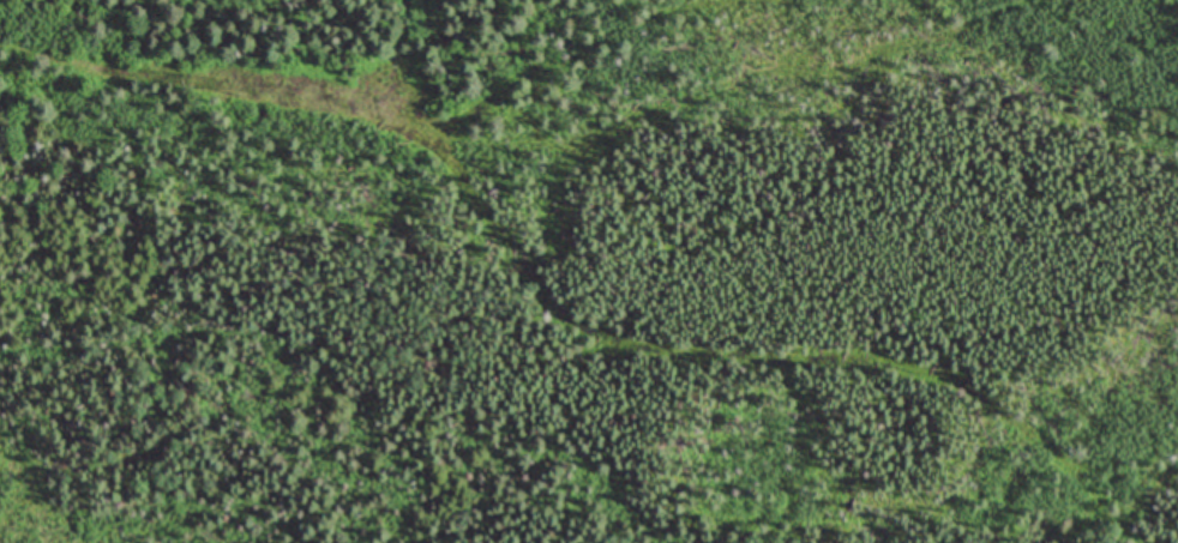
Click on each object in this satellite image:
road: (564, 308)

